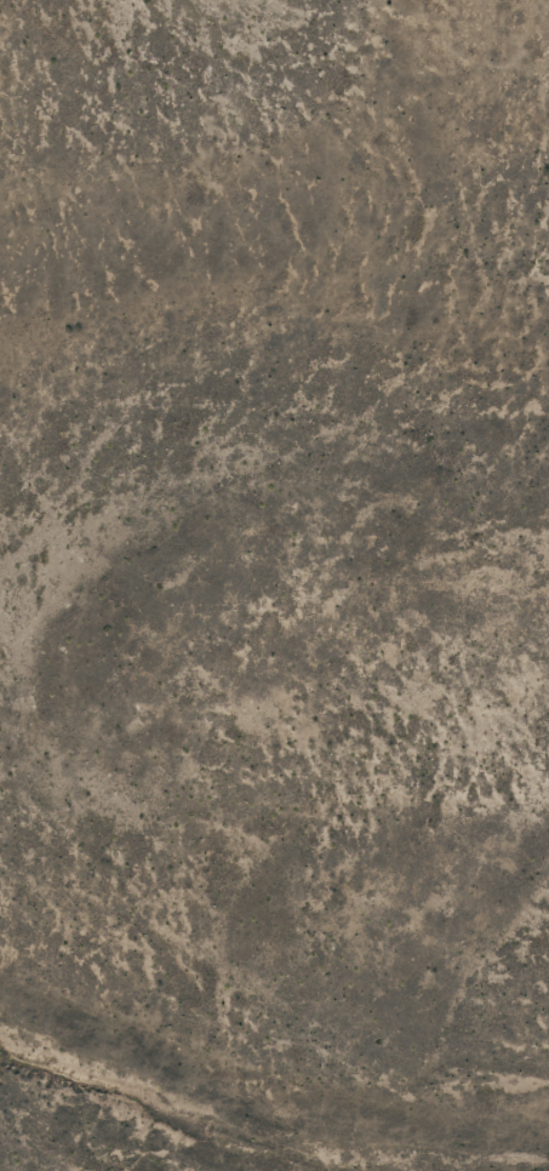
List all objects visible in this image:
road: (270, 1061)

